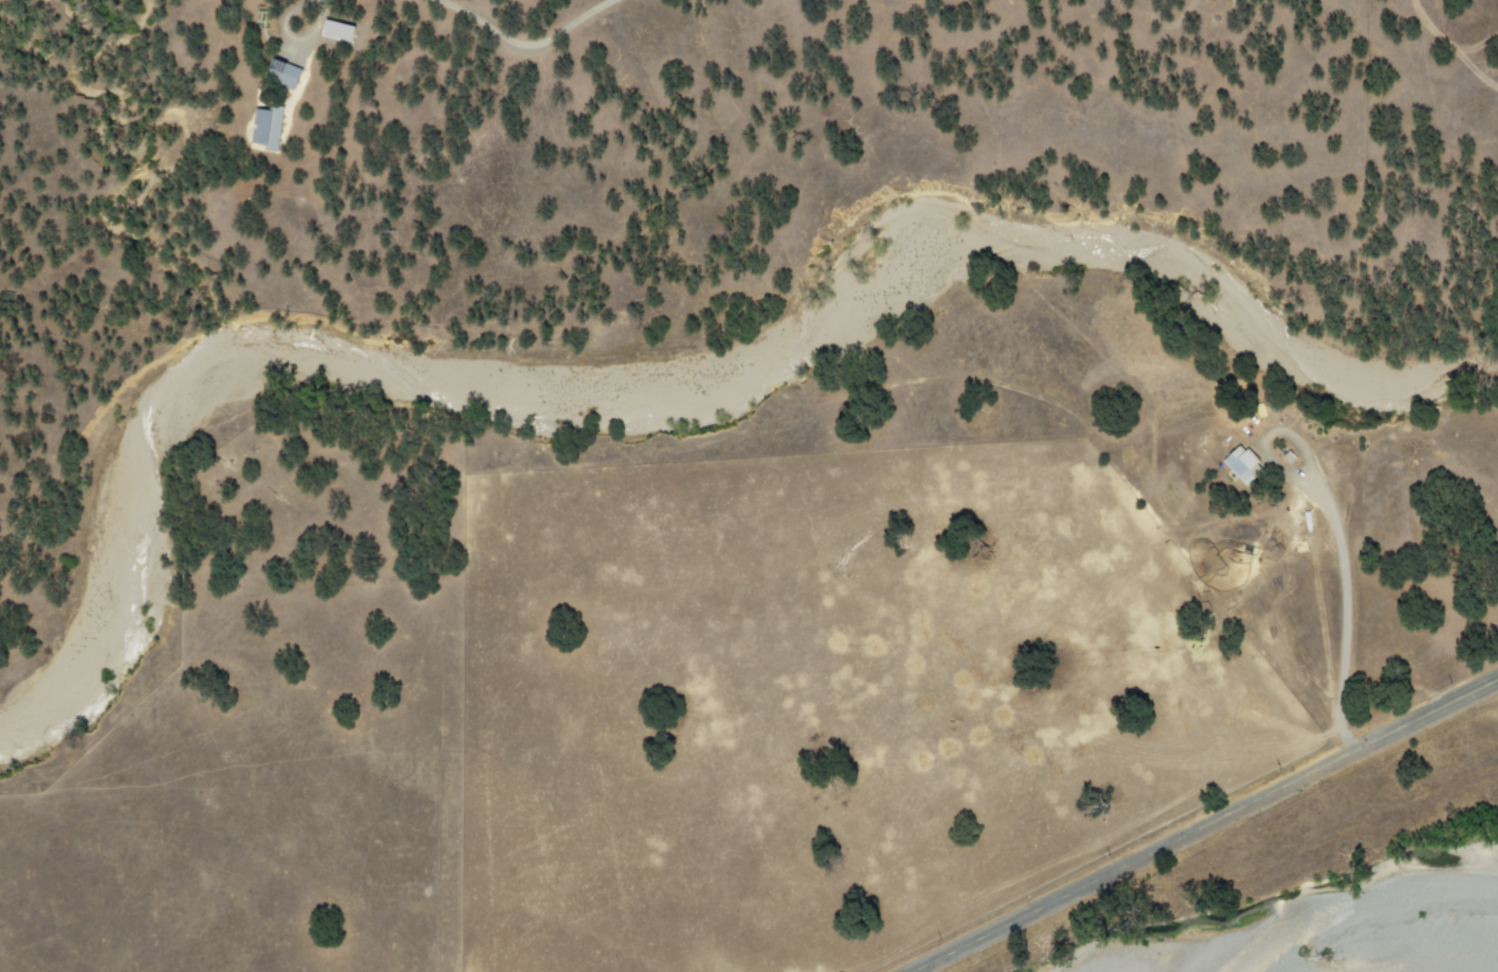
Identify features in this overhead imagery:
building: (338, 30)
building: (285, 72)
building: (268, 127)
road: (955, 376)
river: (664, 426)
building: (1243, 464)
road: (473, 504)
road: (528, 509)
road: (1334, 530)
road: (1315, 601)
road: (509, 609)
road: (726, 609)
road: (1264, 617)
road: (931, 778)
road: (1212, 827)
river: (1406, 964)

